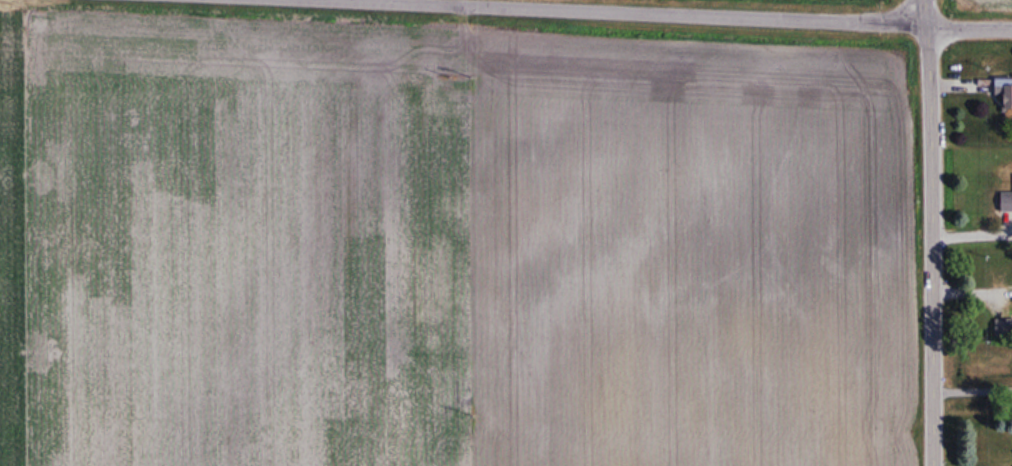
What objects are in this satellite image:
road: (652, 15)
building: (1002, 90)
building: (1006, 200)
road: (930, 233)
building: (1003, 326)

